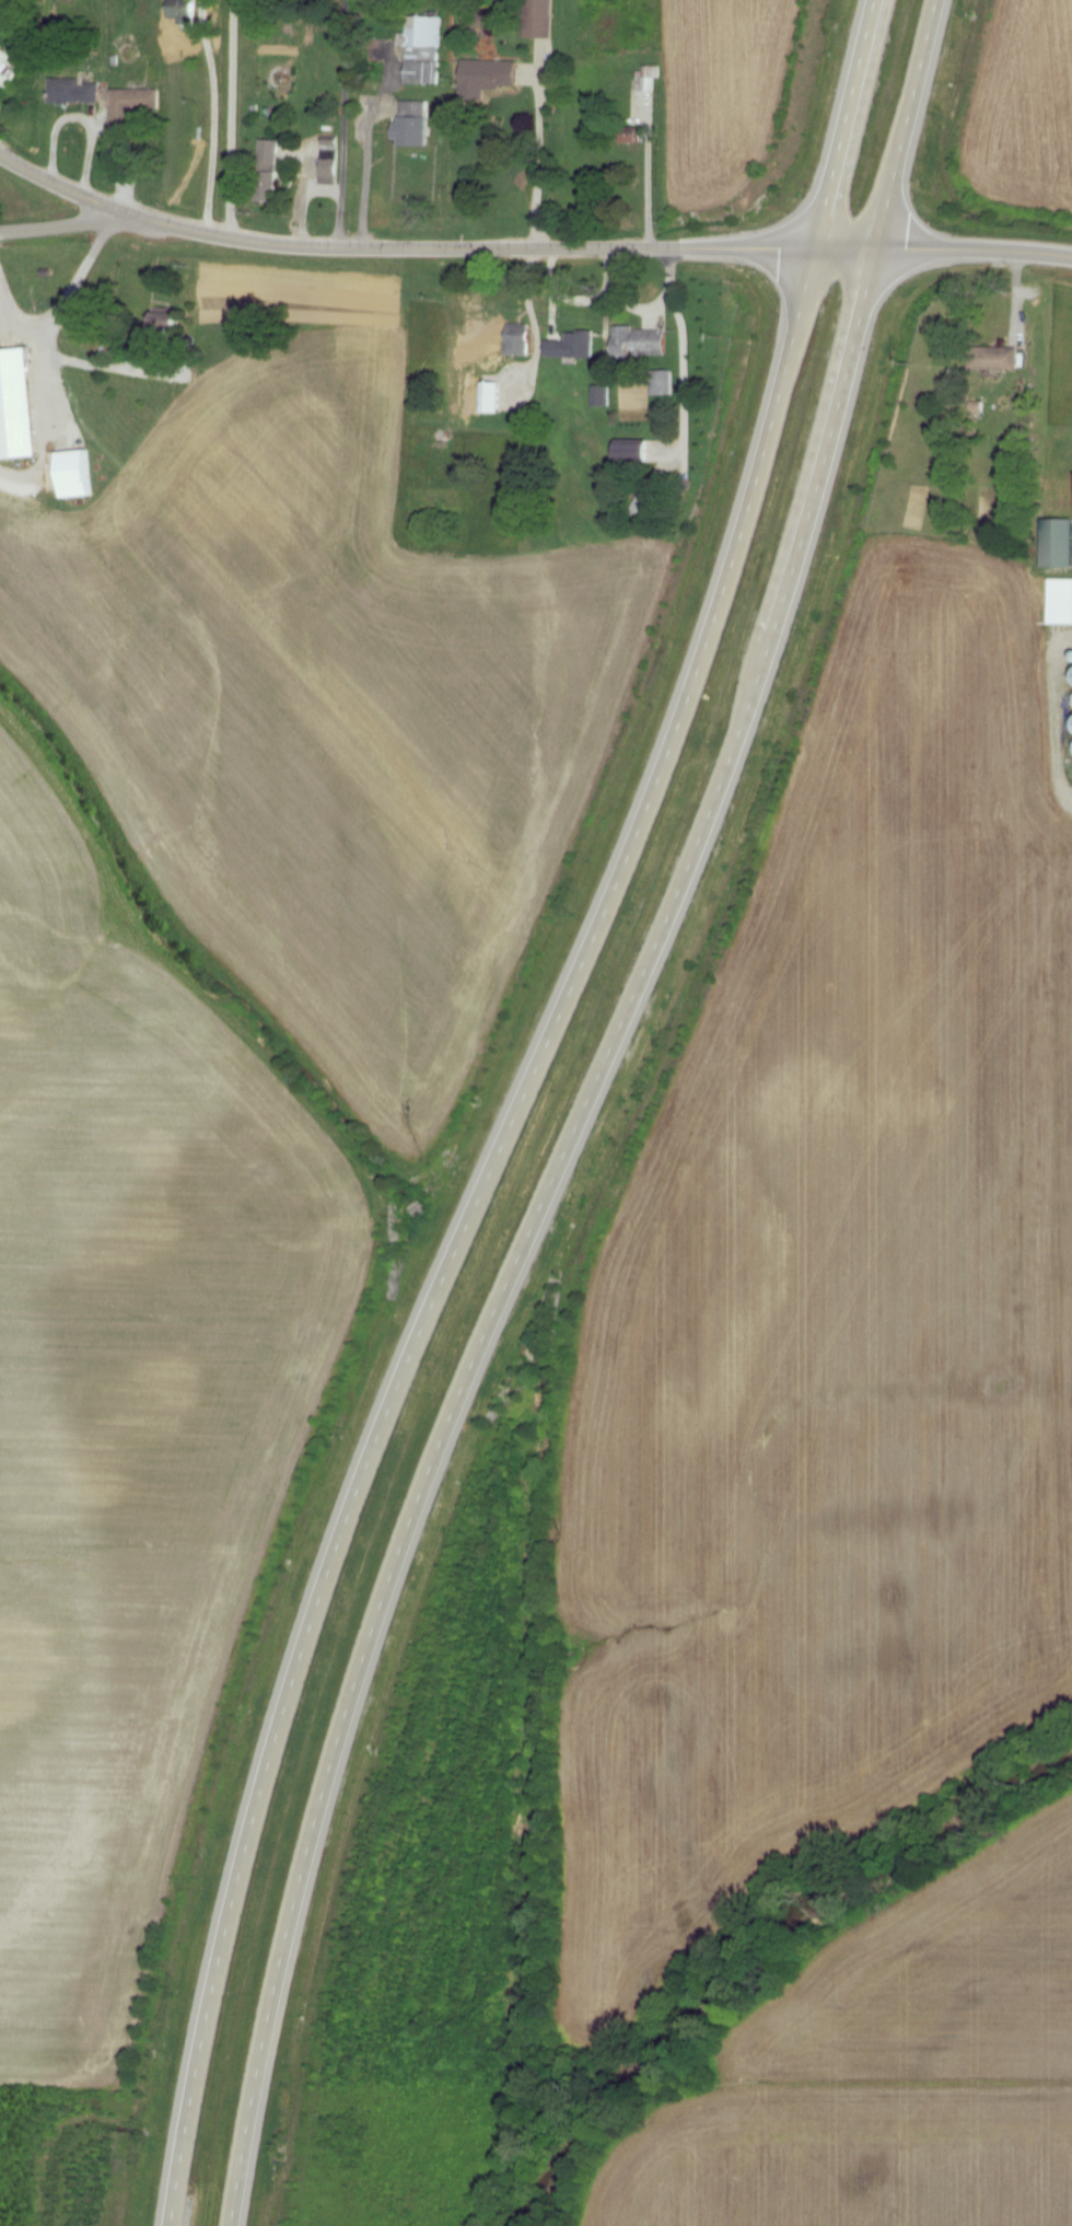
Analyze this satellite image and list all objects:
building: (0, 1)
building: (188, 11)
building: (545, 19)
building: (426, 50)
building: (9, 70)
building: (490, 77)
building: (650, 79)
building: (78, 92)
crop: (722, 94)
building: (136, 105)
crop: (1021, 107)
road: (232, 119)
road: (340, 124)
building: (417, 125)
building: (634, 135)
road: (536, 159)
building: (272, 170)
road: (361, 176)
road: (644, 178)
road: (298, 199)
road: (67, 224)
road: (527, 247)
road: (61, 298)
building: (168, 328)
building: (522, 340)
building: (644, 343)
building: (575, 346)
building: (1007, 359)
building: (665, 384)
building: (604, 396)
building: (494, 398)
building: (19, 406)
building: (645, 452)
building: (79, 475)
building: (1059, 544)
building: (1062, 602)
road: (516, 1111)
road: (581, 1111)

